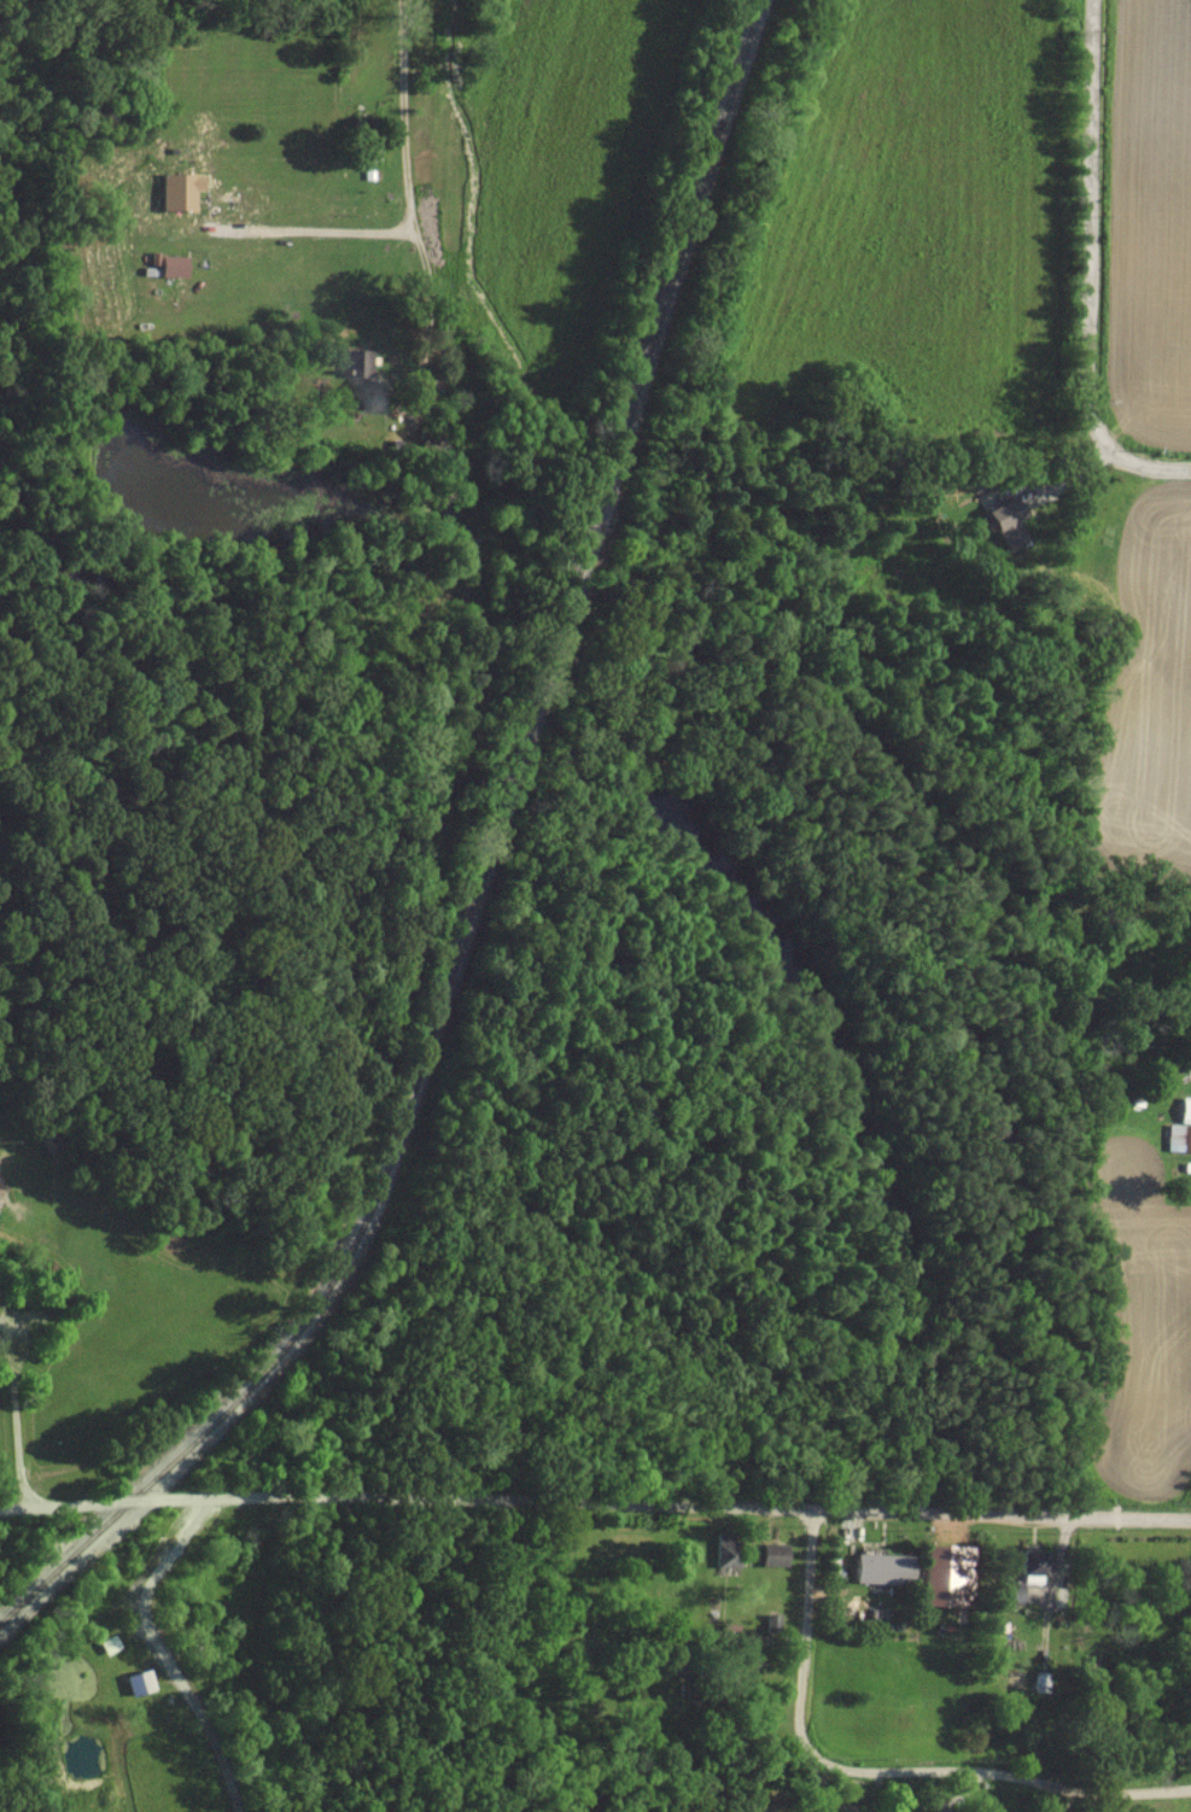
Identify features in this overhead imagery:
building: (183, 191)
road: (408, 212)
road: (315, 230)
building: (176, 265)
road: (1087, 271)
building: (362, 361)
building: (1002, 519)
railway: (590, 537)
building: (1184, 1107)
building: (1178, 1136)
railway: (352, 1246)
road: (18, 1426)
road: (427, 1498)
road: (21, 1507)
railway: (121, 1510)
road: (1002, 1518)
building: (767, 1551)
building: (722, 1553)
building: (1024, 1560)
building: (876, 1566)
building: (934, 1574)
building: (1006, 1590)
road: (146, 1596)
road: (806, 1638)
building: (112, 1643)
building: (142, 1682)
road: (1003, 1775)
road: (1064, 1800)

